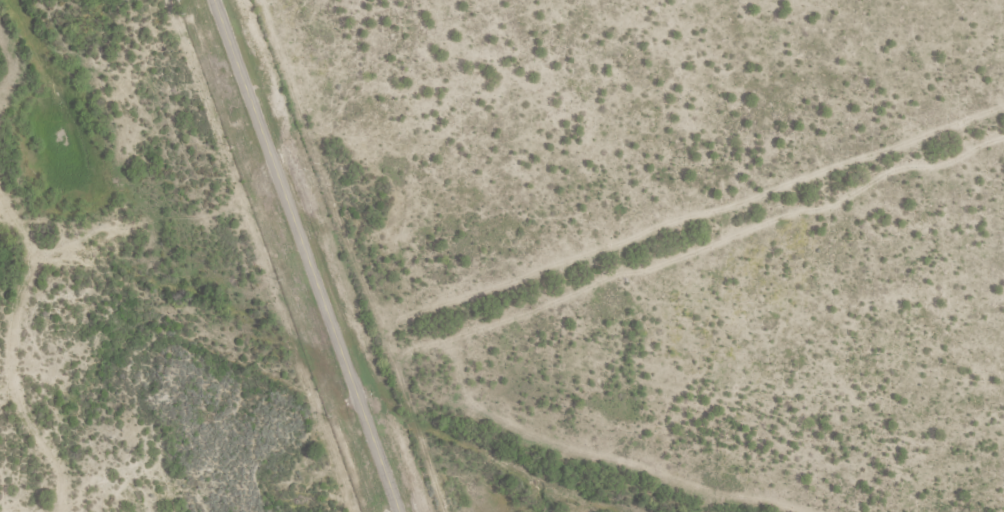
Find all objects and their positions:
road: (311, 255)

